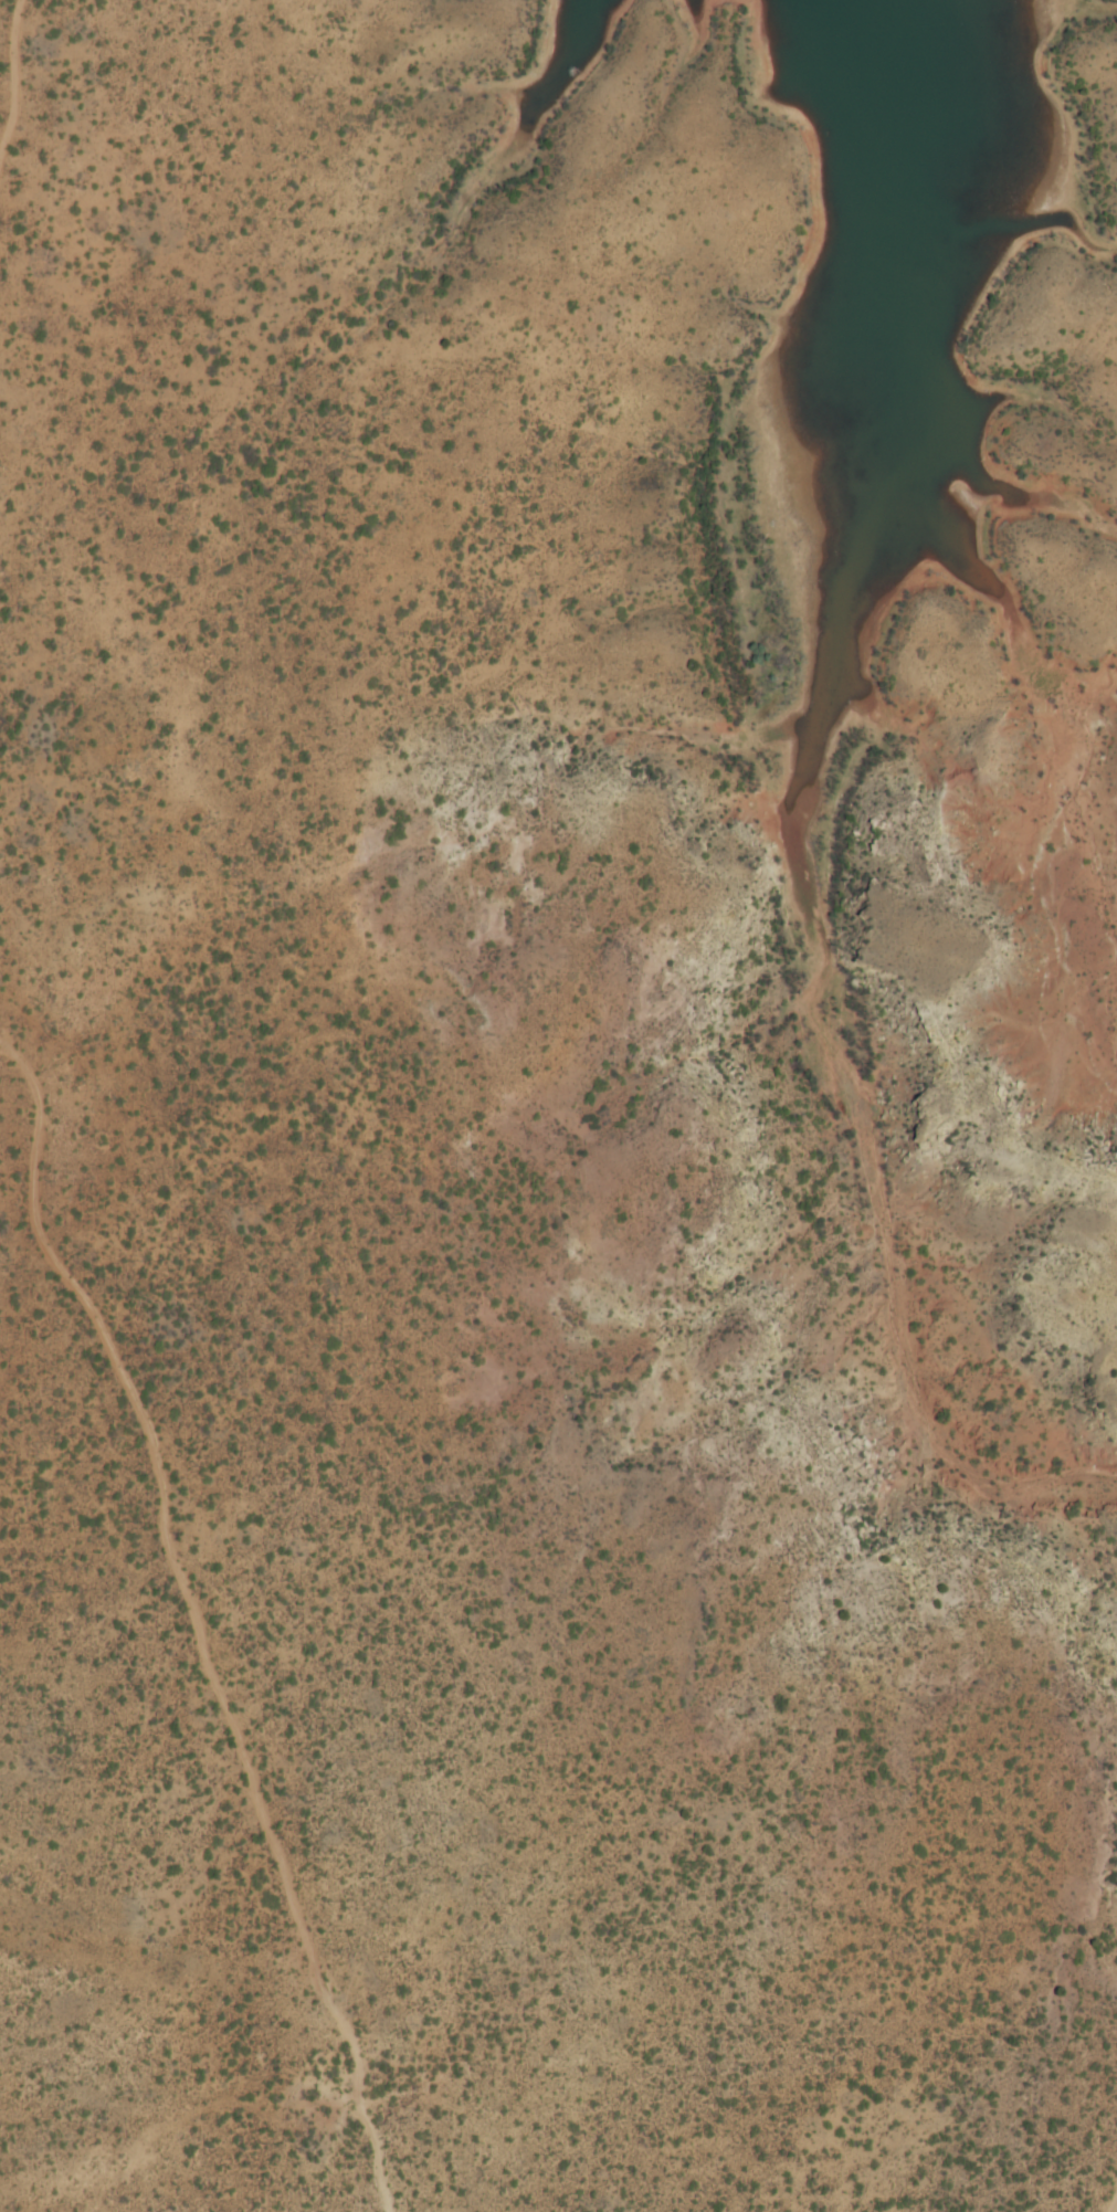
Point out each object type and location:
road: (1092, 2171)

